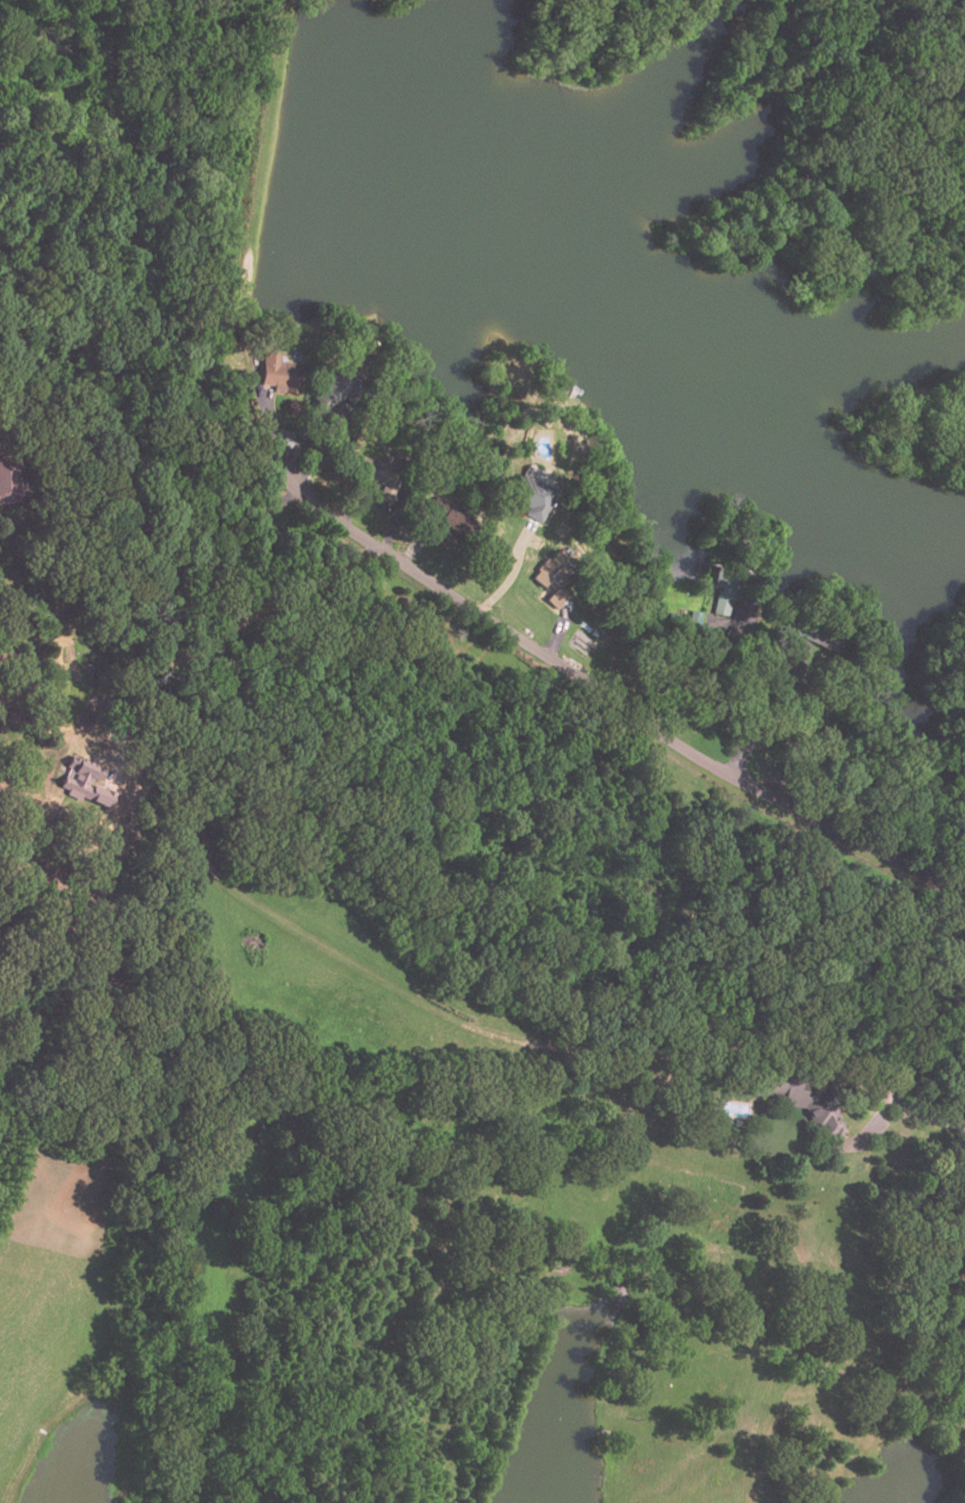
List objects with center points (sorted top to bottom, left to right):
building: (278, 373)
building: (336, 390)
road: (267, 414)
road: (325, 449)
building: (383, 476)
building: (9, 480)
building: (535, 498)
road: (381, 506)
road: (144, 522)
road: (390, 523)
building: (459, 523)
road: (417, 540)
road: (508, 574)
building: (555, 577)
building: (730, 586)
road: (556, 633)
building: (818, 635)
road: (605, 696)
road: (721, 696)
road: (744, 751)
building: (84, 781)
building: (807, 1101)
road: (922, 1119)

